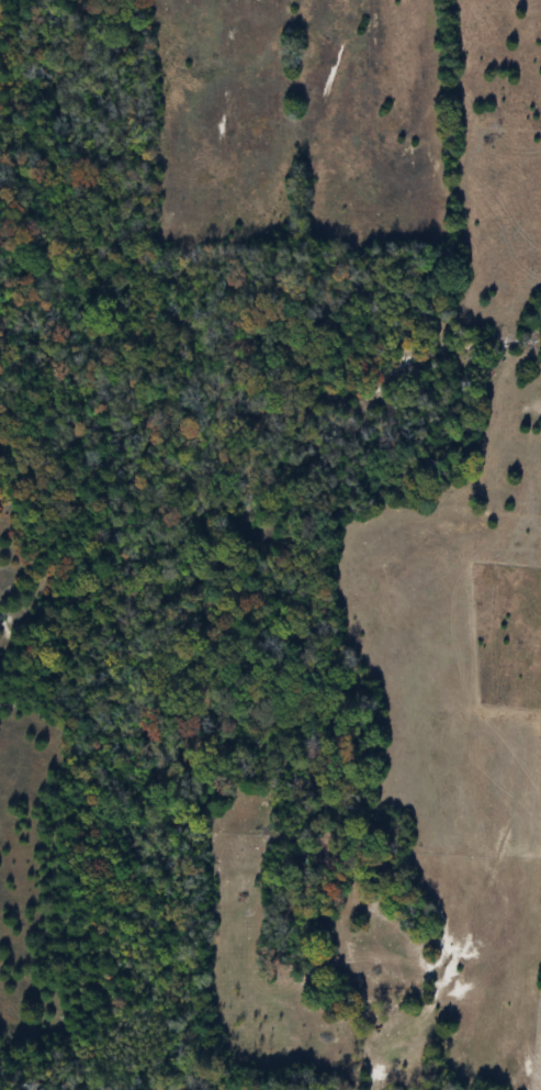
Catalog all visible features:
road: (58, 1087)

